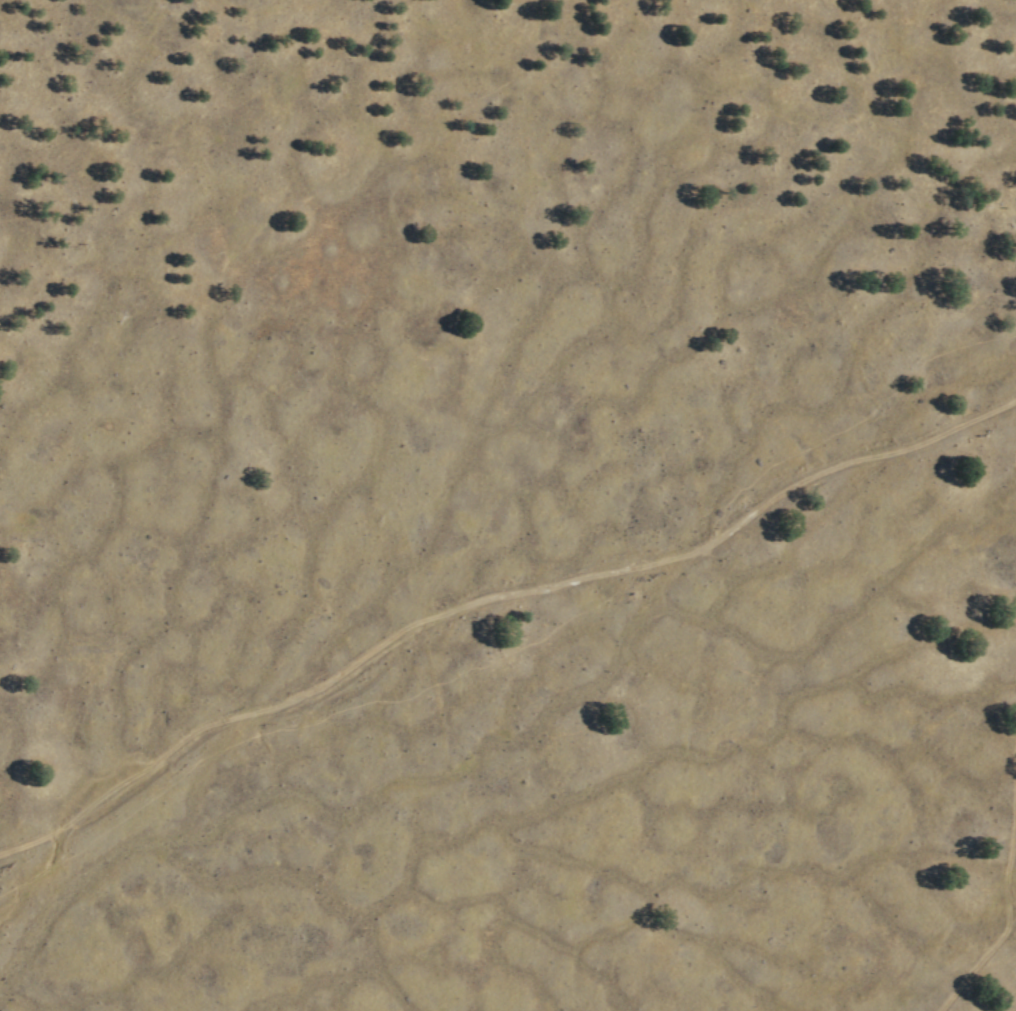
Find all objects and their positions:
road: (494, 595)
road: (1004, 911)

